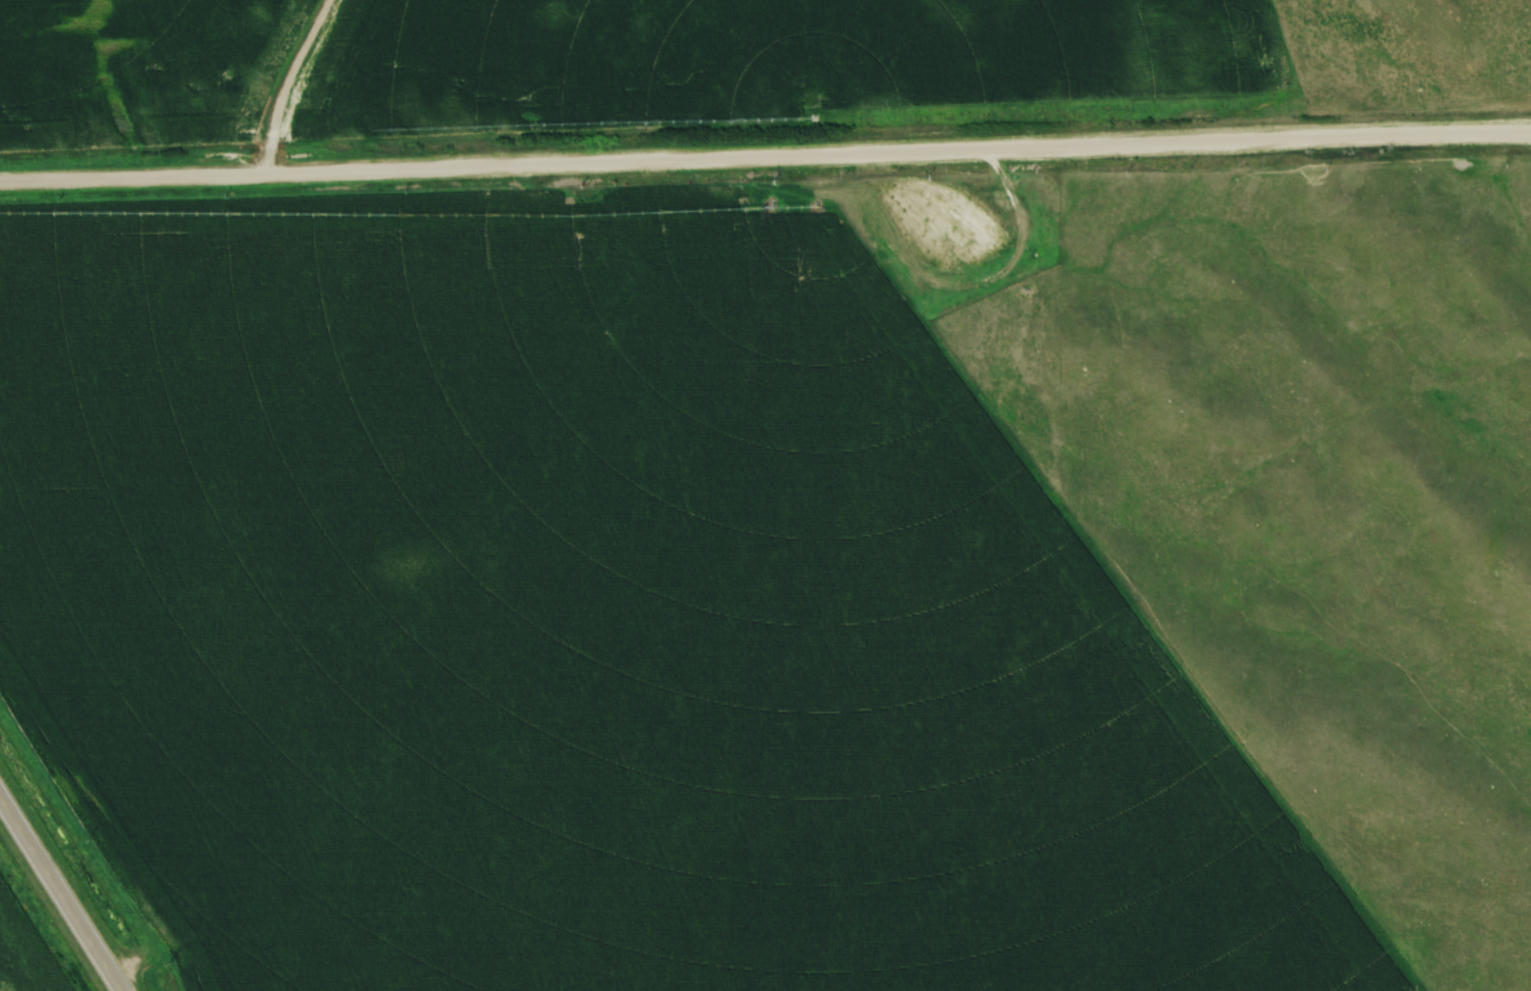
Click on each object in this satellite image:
road: (765, 162)
road: (58, 898)

